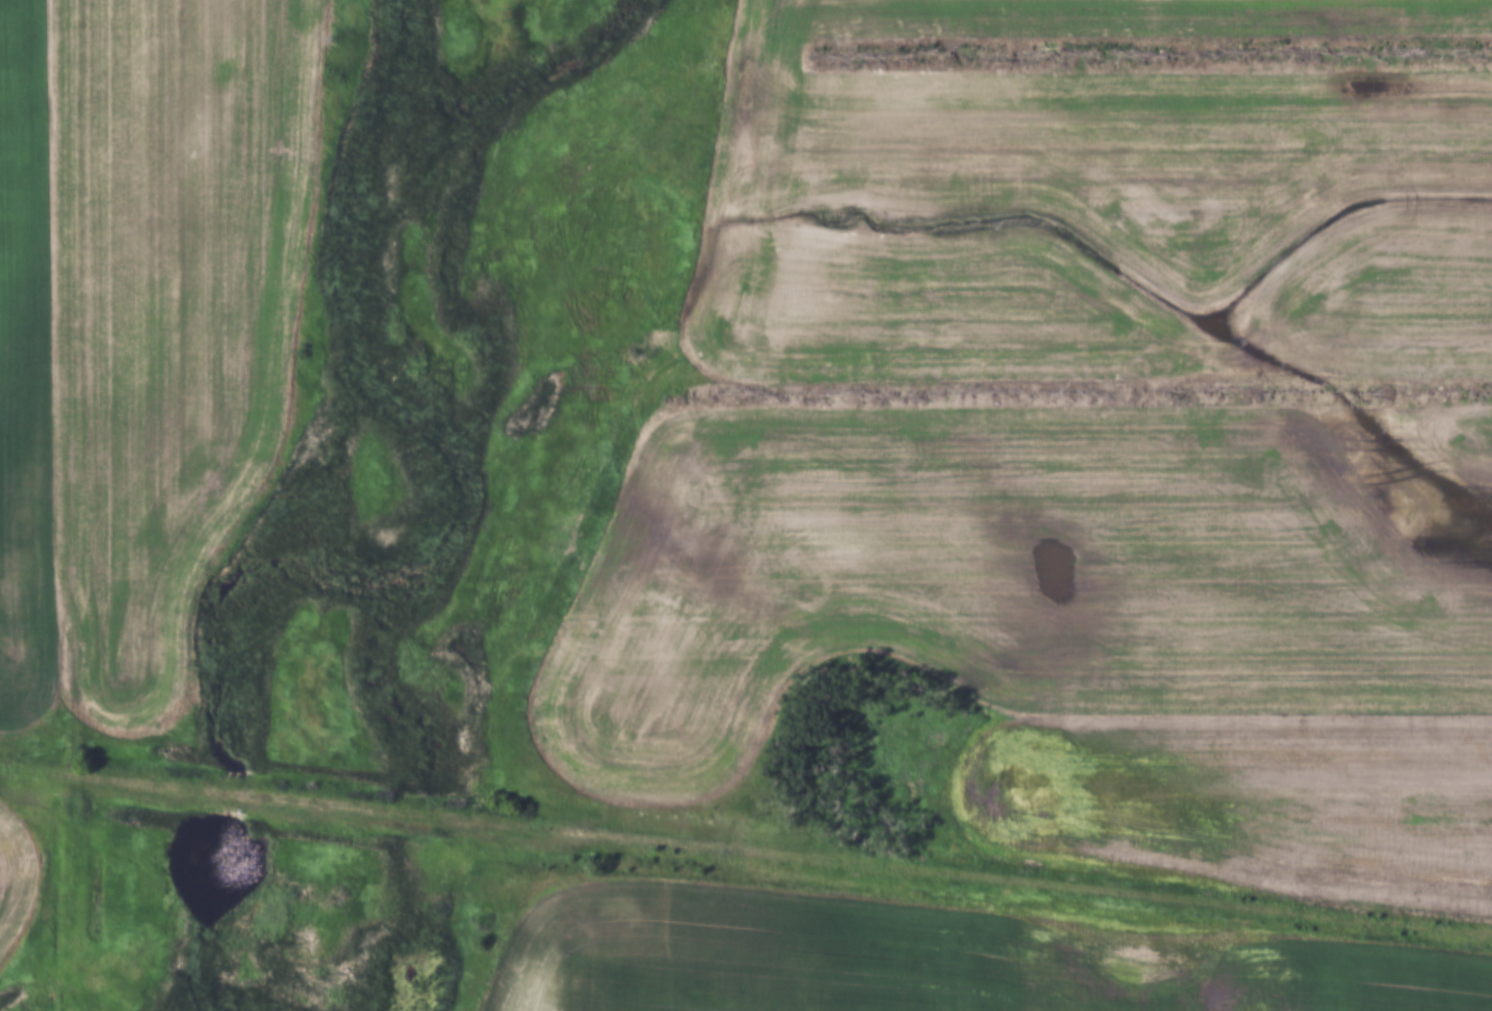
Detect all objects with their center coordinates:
road: (509, 915)

